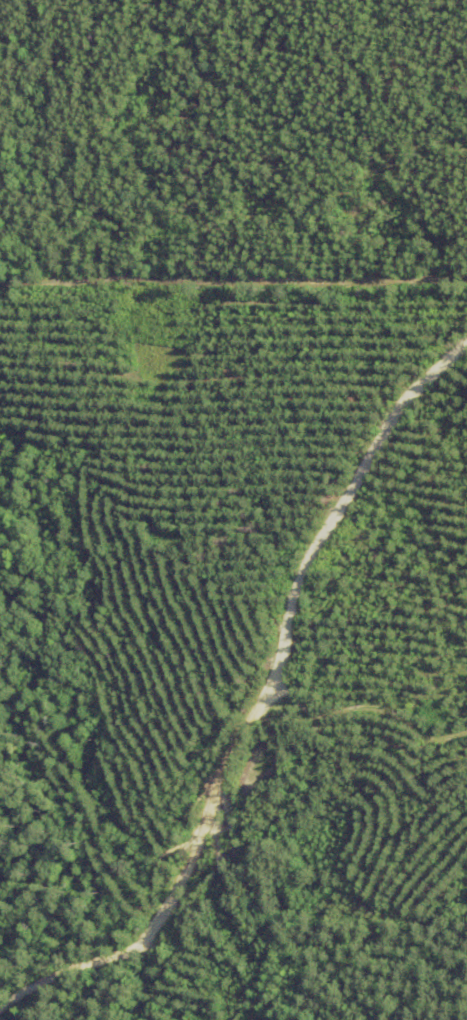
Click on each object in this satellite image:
road: (254, 693)

